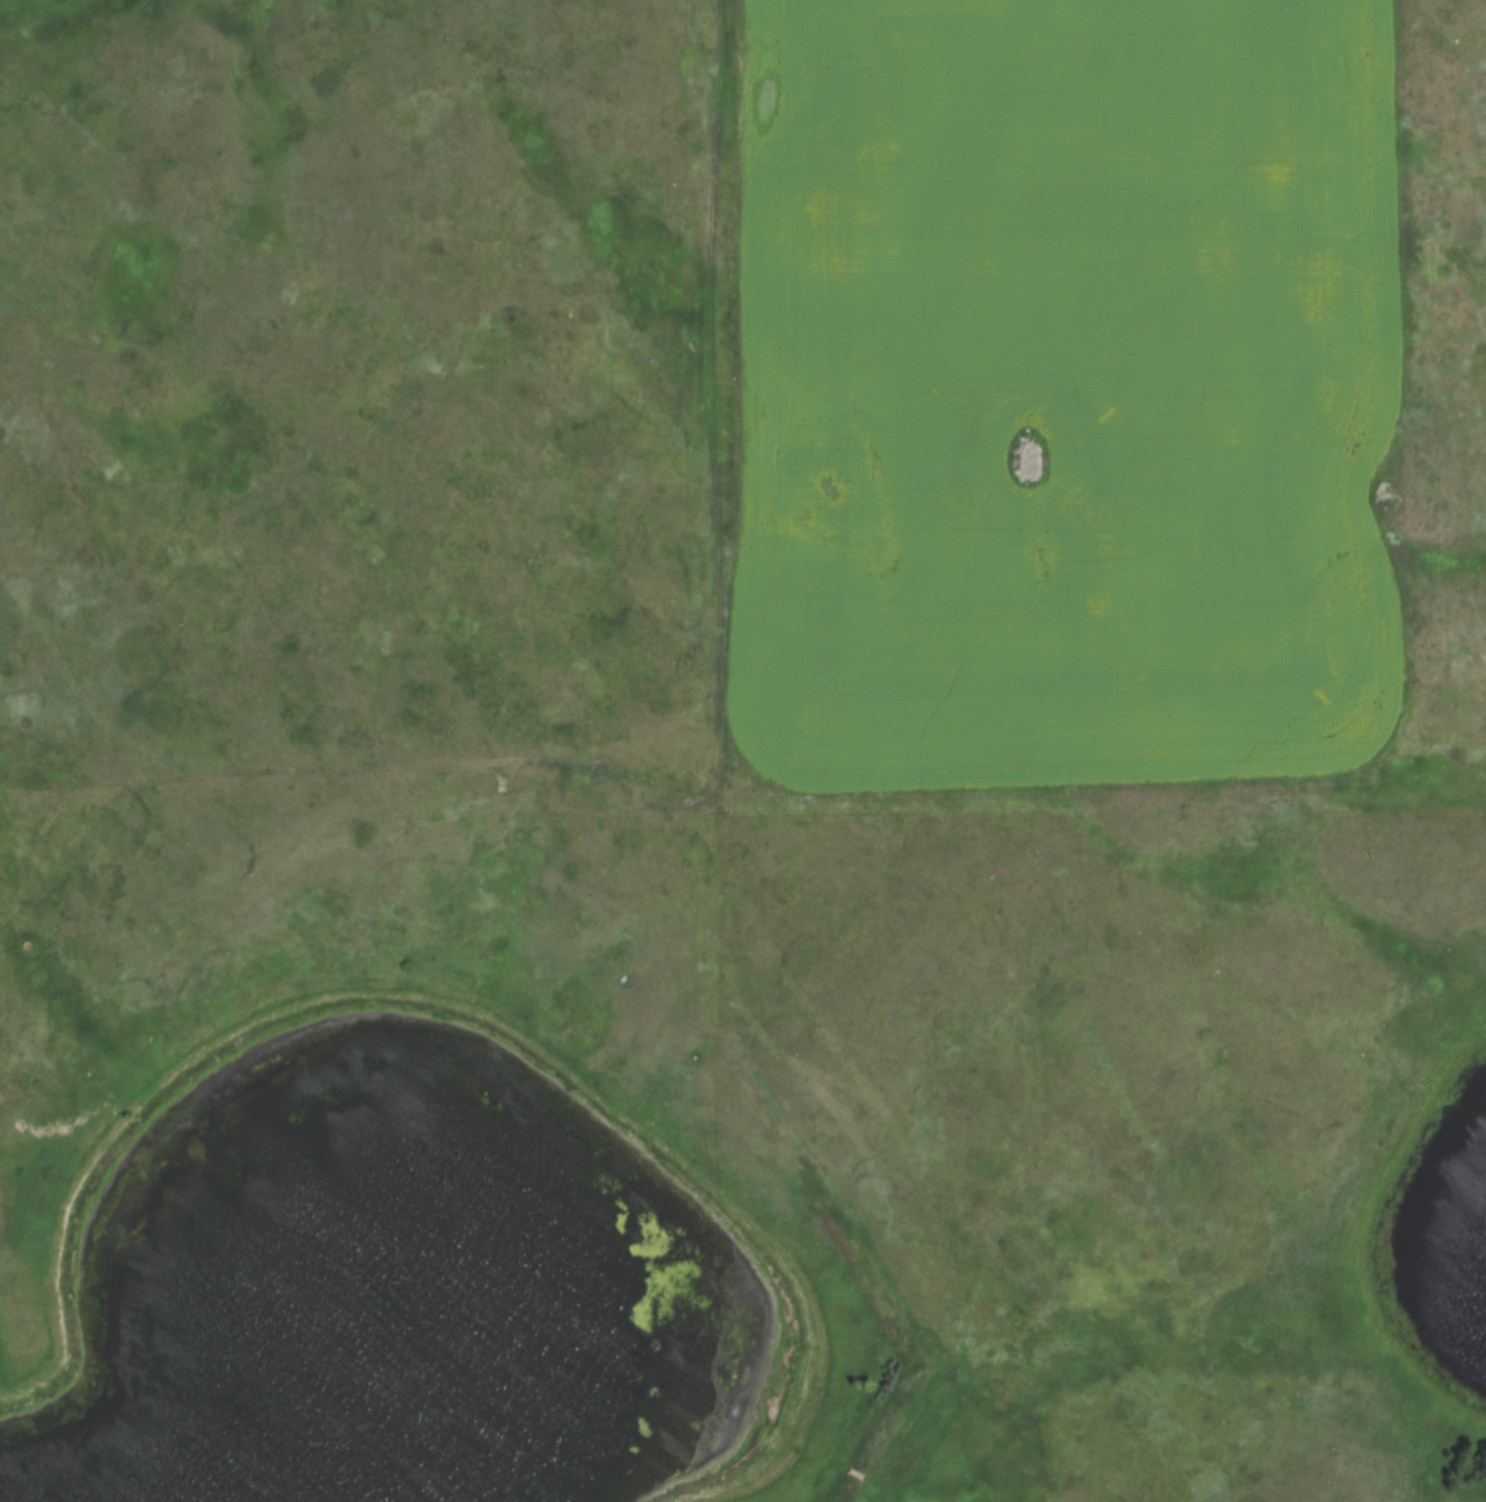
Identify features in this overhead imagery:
road: (718, 783)

